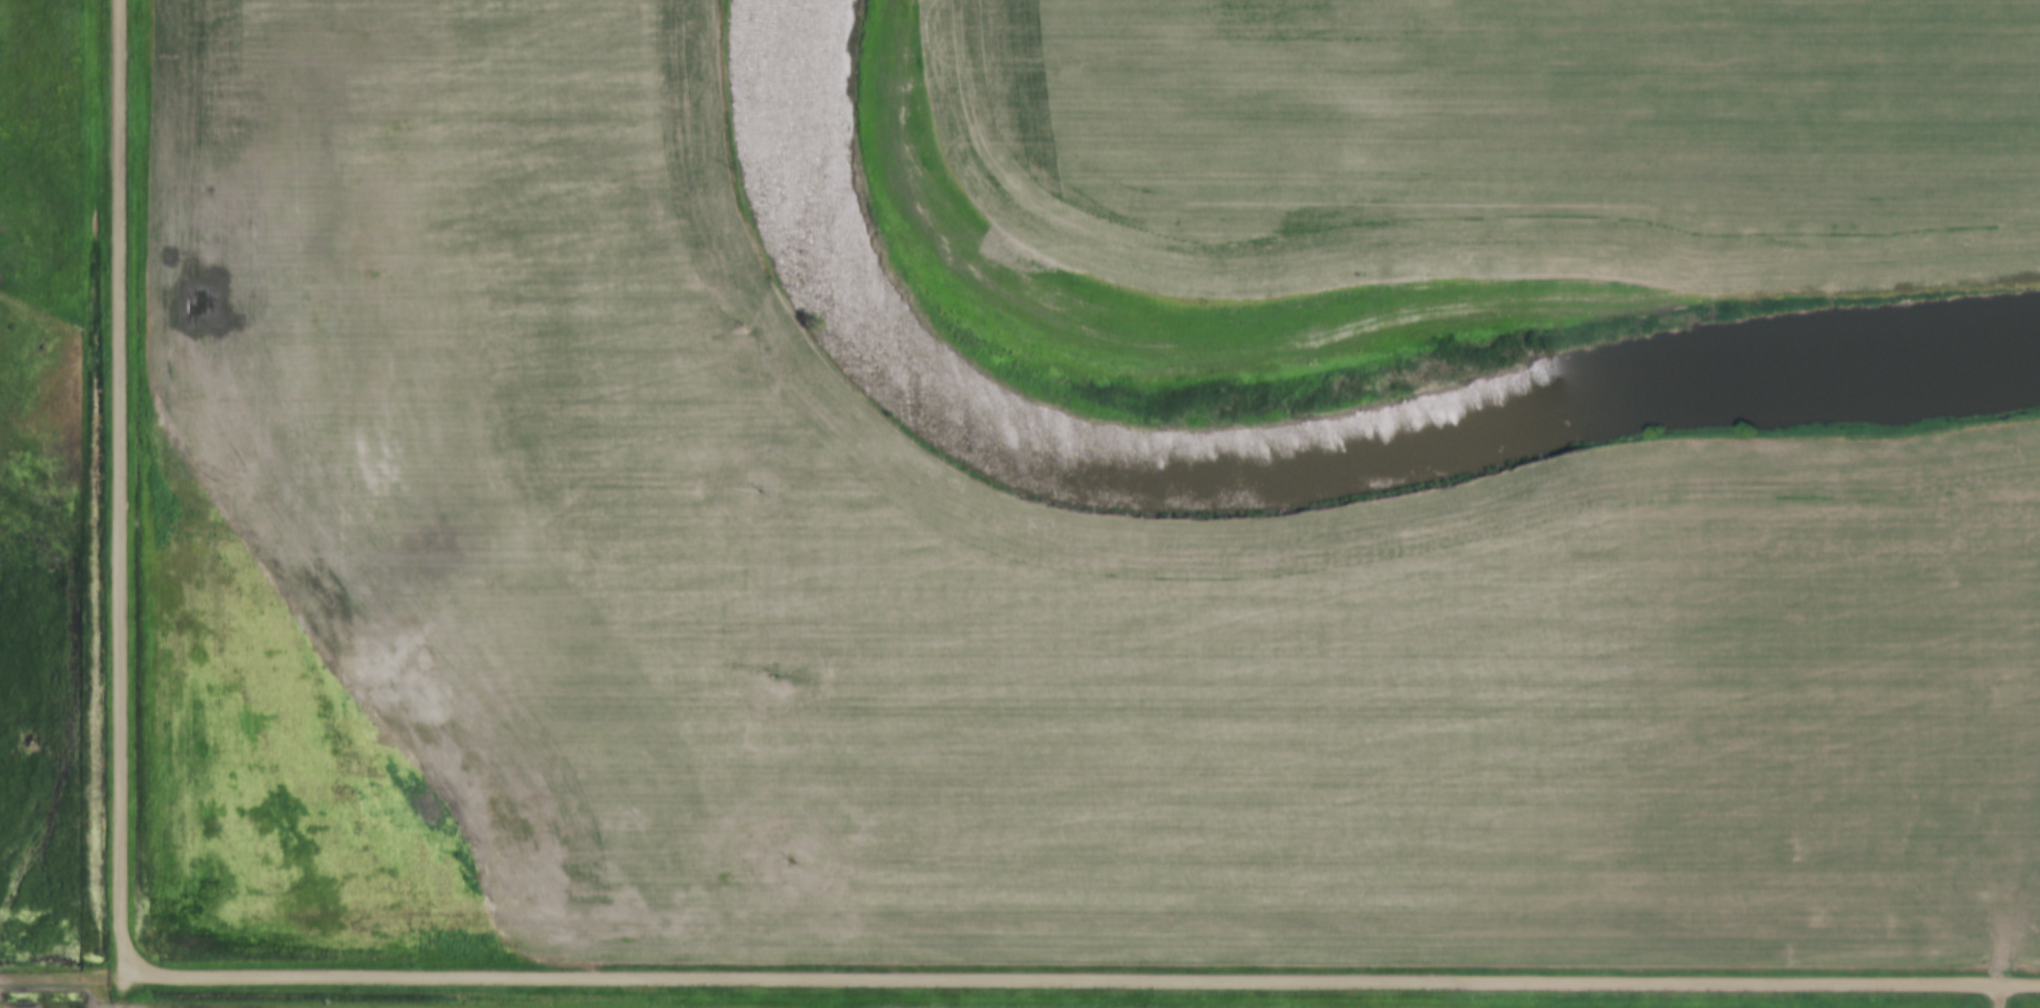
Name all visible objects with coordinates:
river: (1268, 462)
road: (119, 489)
road: (60, 977)
road: (1080, 981)
road: (121, 993)
road: (2002, 997)
road: (2, 1003)

